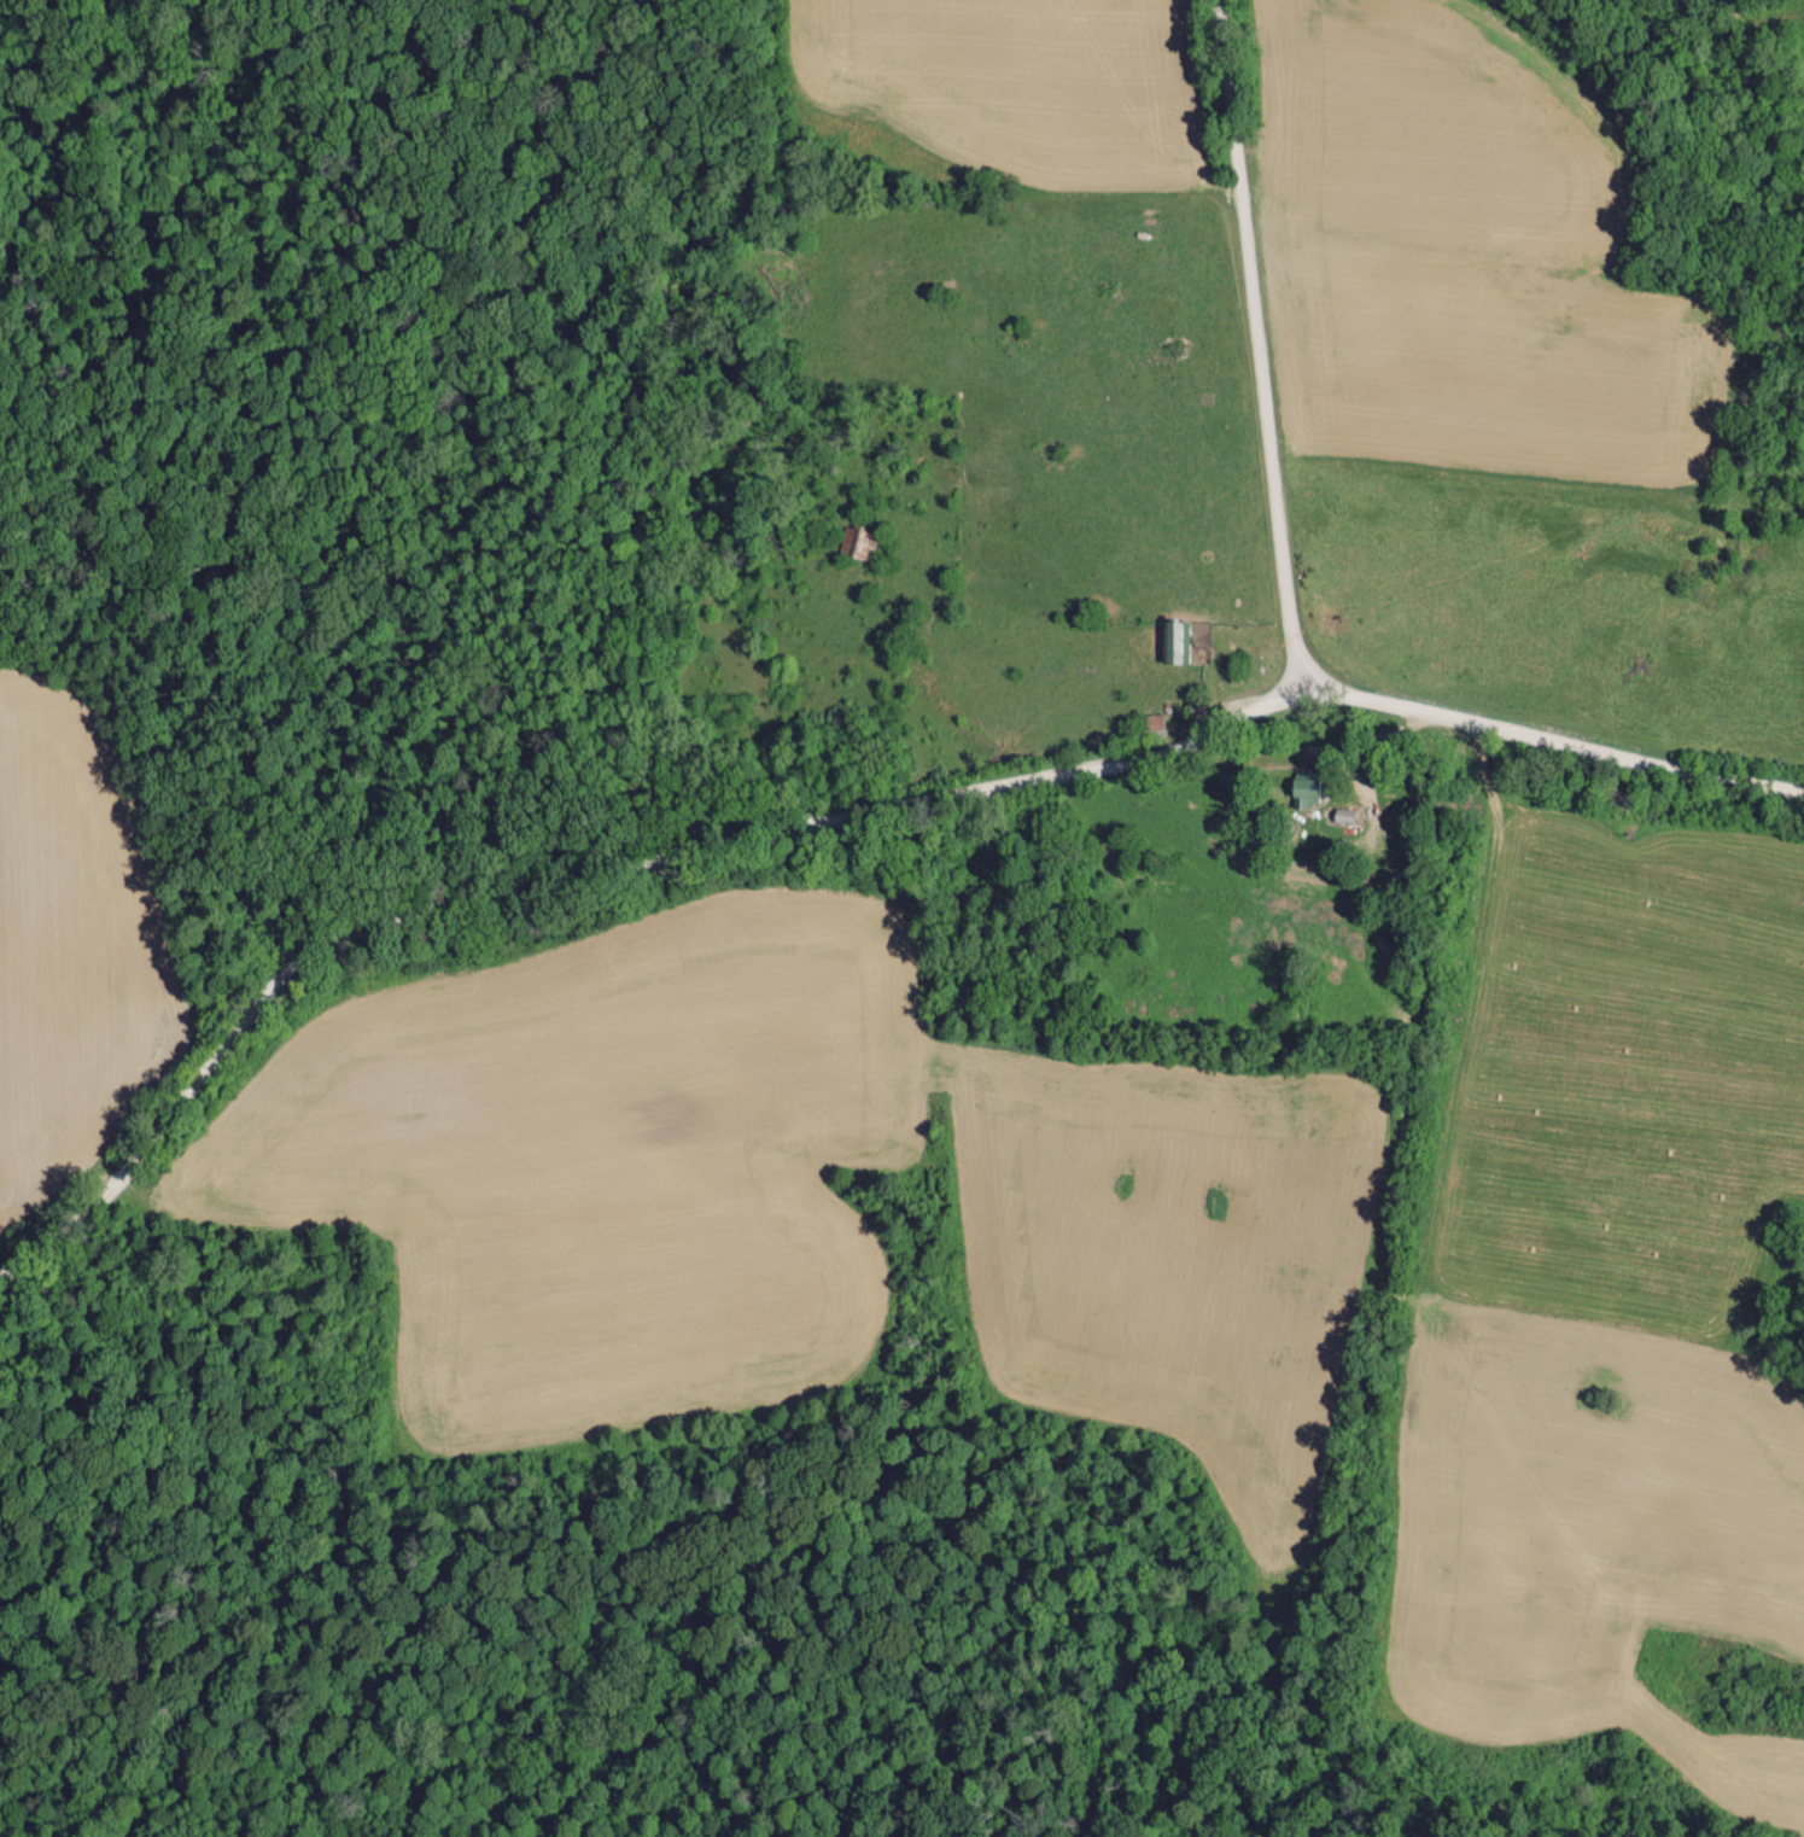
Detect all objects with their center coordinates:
road: (1267, 348)
building: (1178, 641)
building: (1302, 788)
building: (1342, 815)
road: (837, 826)

